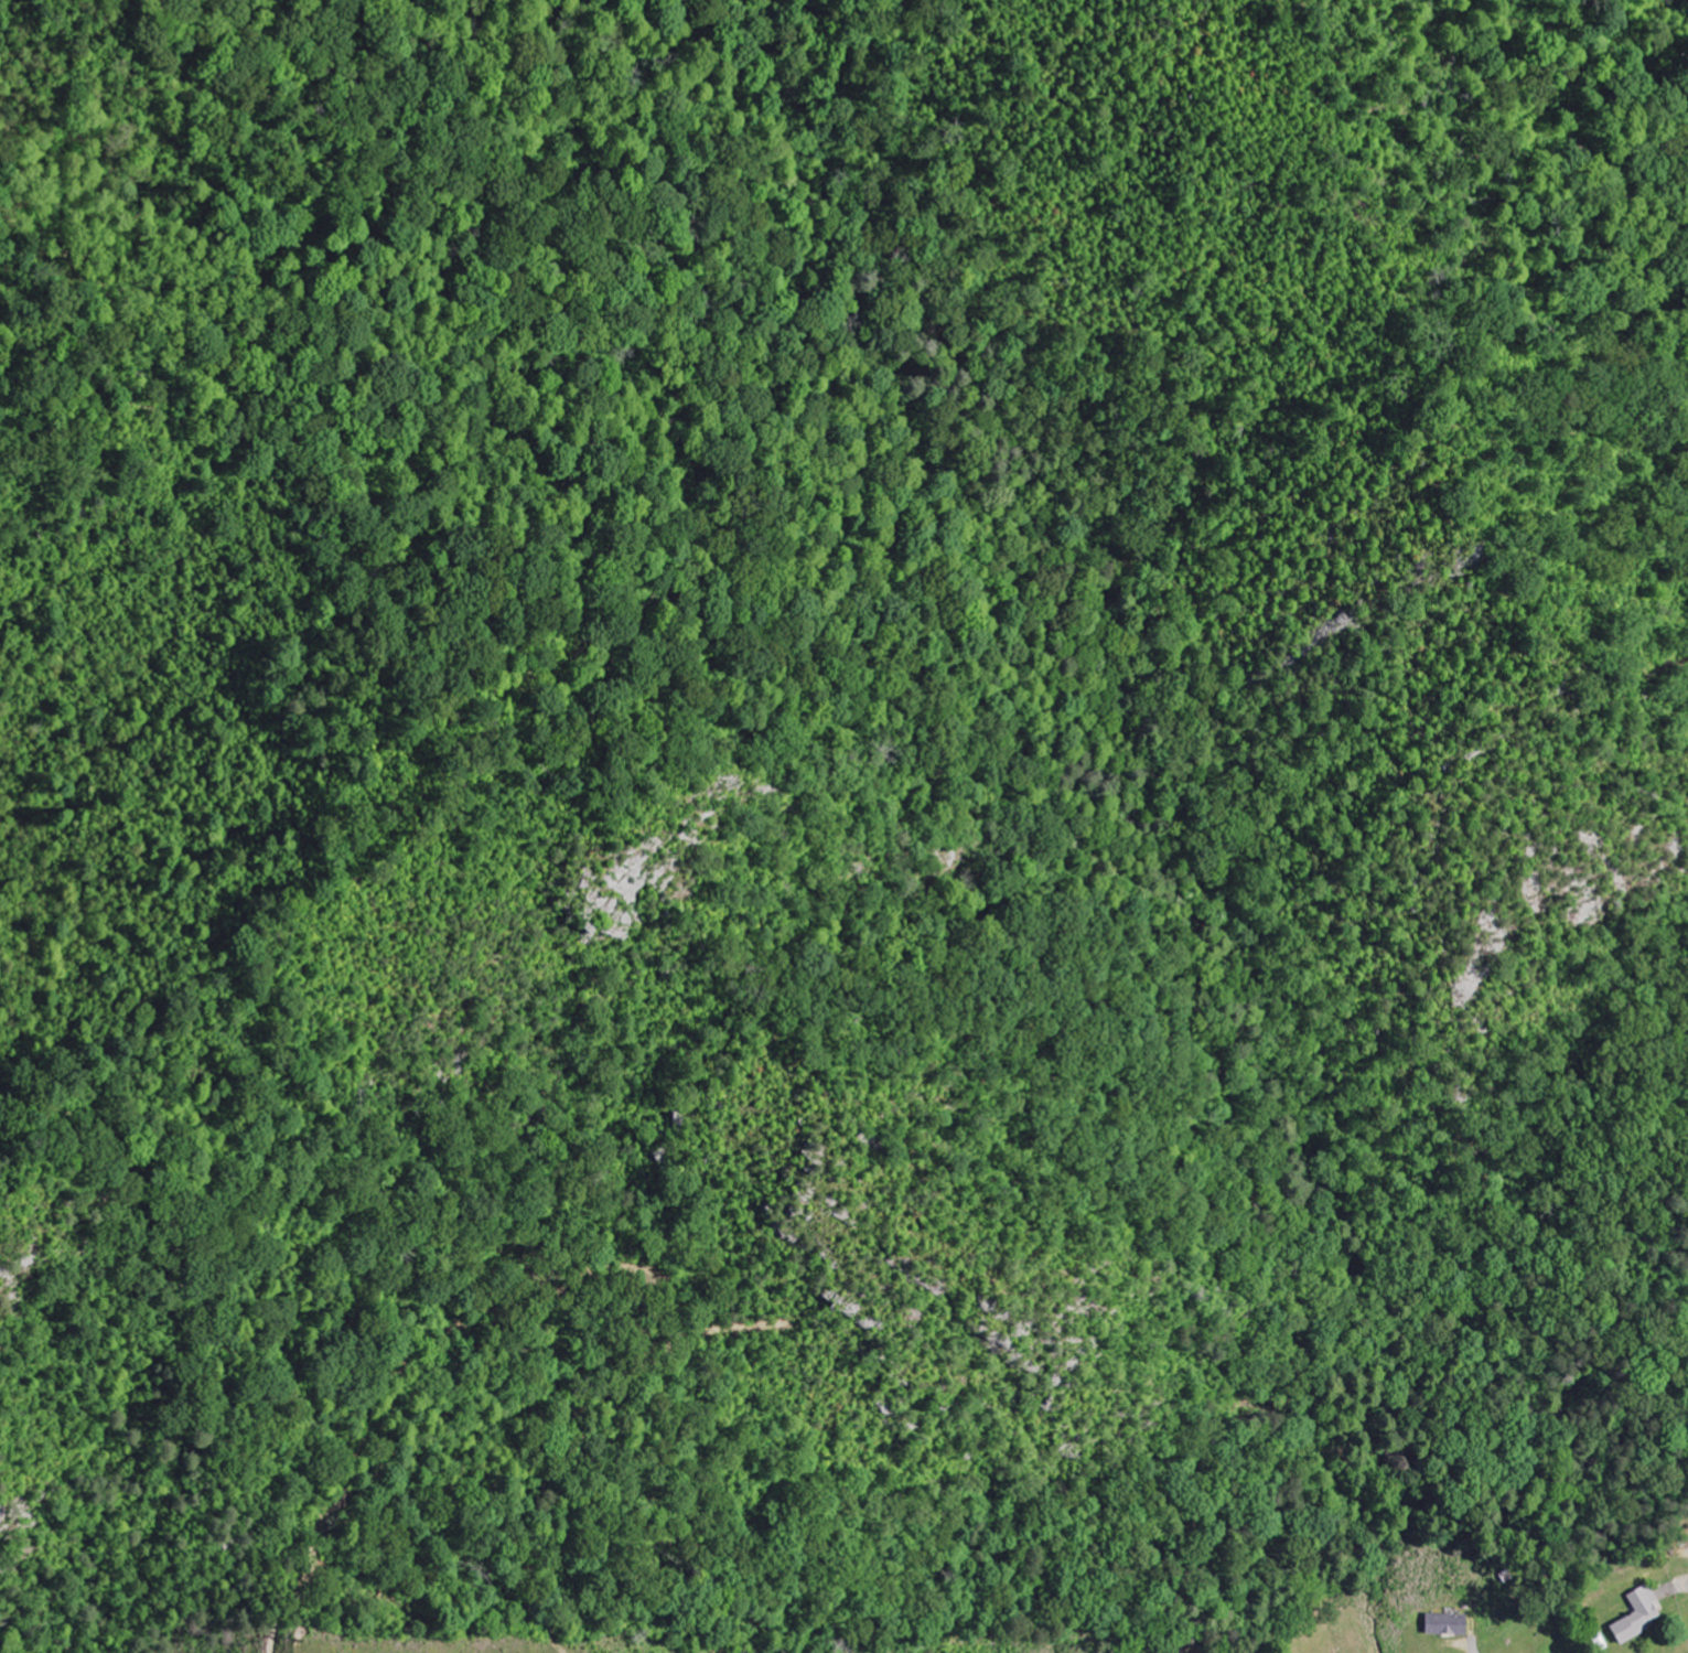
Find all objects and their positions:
building: (1637, 1616)
building: (1444, 1625)
road: (1495, 1643)

